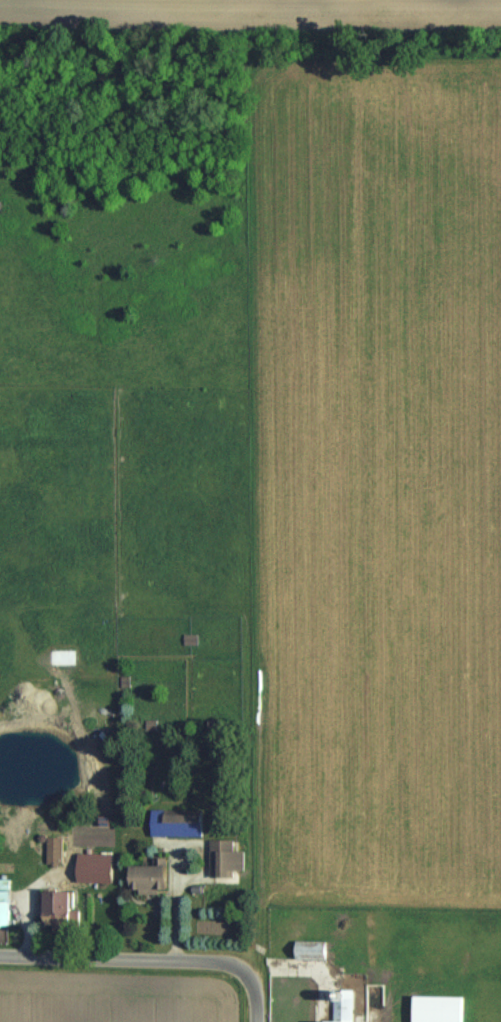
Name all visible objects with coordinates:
crop: (264, 7)
building: (177, 822)
building: (55, 850)
building: (227, 858)
building: (96, 866)
building: (151, 874)
building: (4, 902)
building: (58, 907)
building: (312, 948)
road: (142, 960)
building: (441, 1002)
building: (343, 1005)

